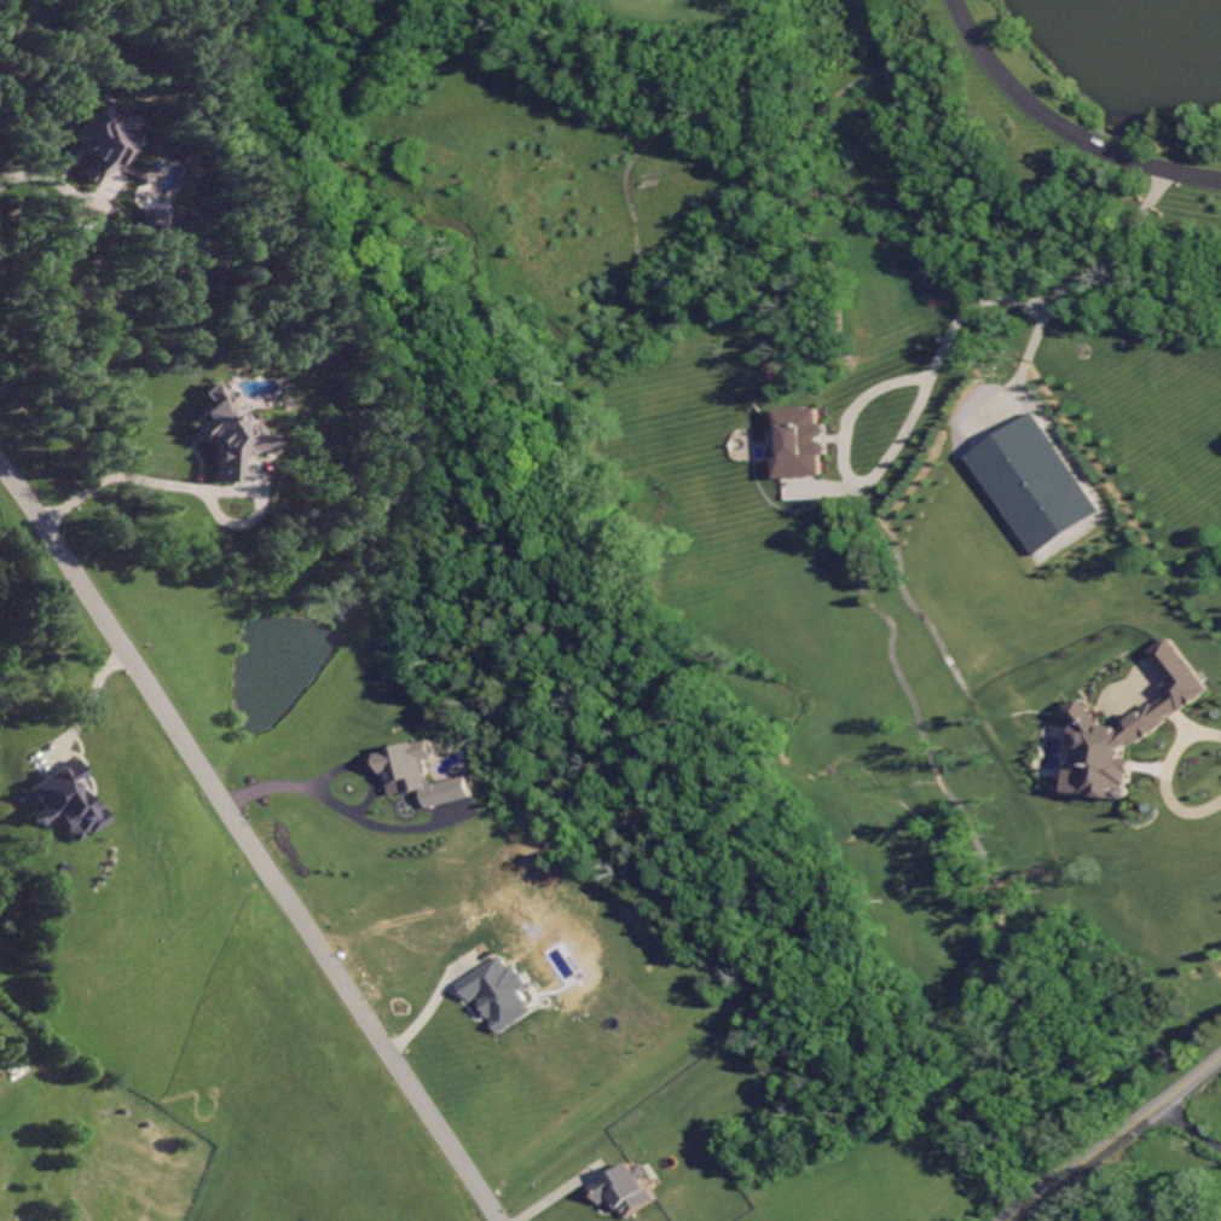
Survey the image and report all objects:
park: (1125, 64)
road: (833, 96)
road: (1061, 128)
building: (96, 145)
road: (50, 175)
road: (1074, 279)
building: (224, 434)
road: (897, 434)
building: (800, 442)
park: (782, 459)
road: (118, 470)
building: (1032, 484)
road: (92, 702)
building: (1127, 728)
road: (336, 764)
building: (418, 774)
road: (1168, 776)
building: (62, 800)
road: (249, 838)
building: (497, 991)
road: (426, 1007)
road: (1190, 1129)
road: (1117, 1140)
building: (625, 1188)

